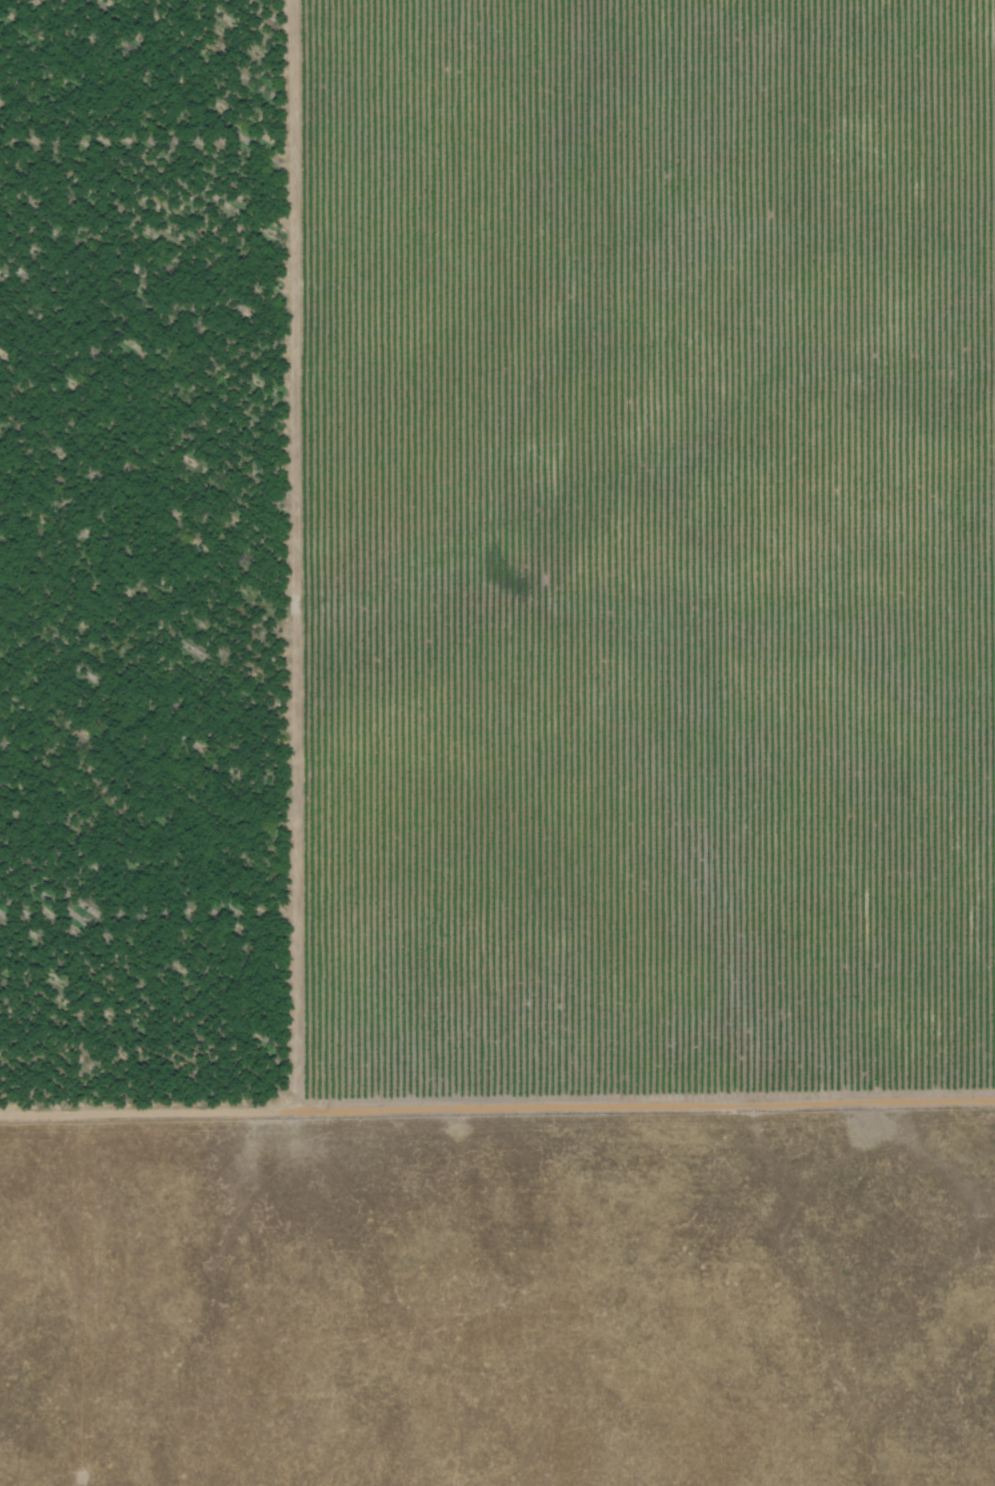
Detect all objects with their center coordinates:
road: (497, 1101)

